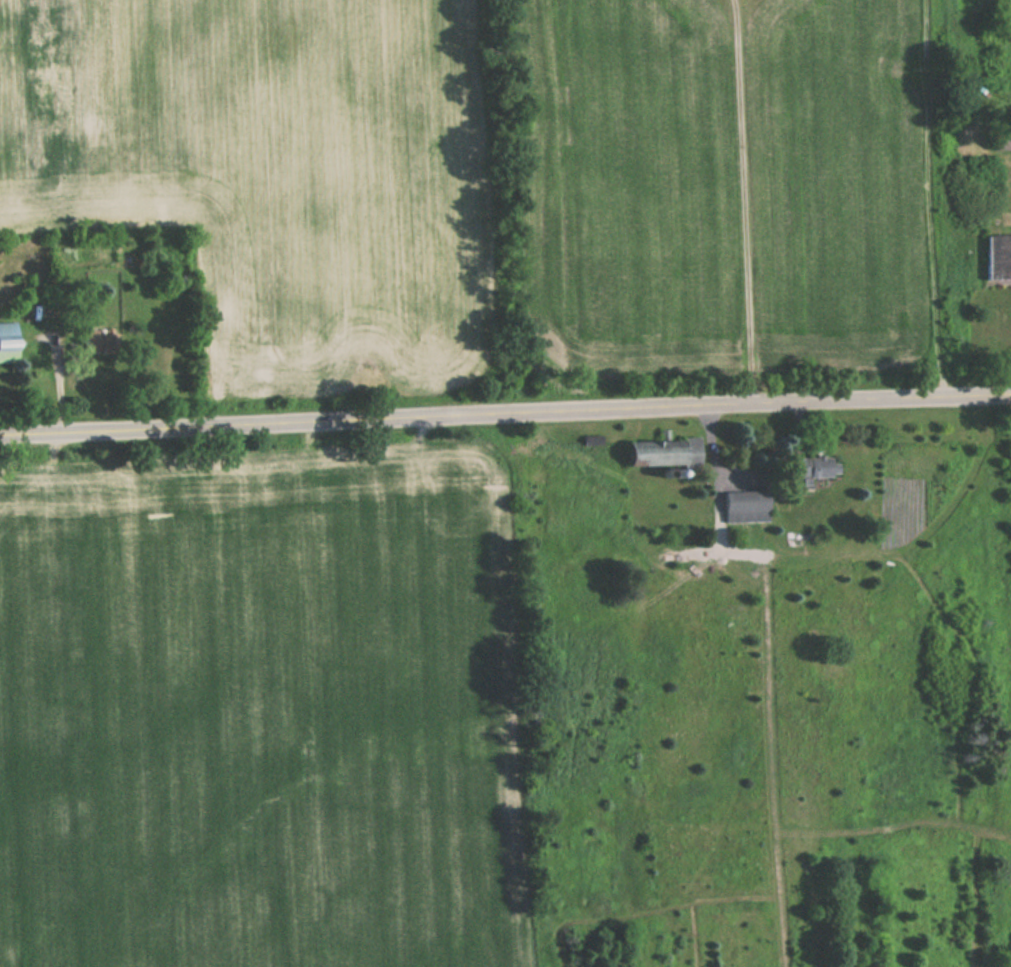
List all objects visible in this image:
building: (1002, 141)
road: (930, 199)
road: (743, 203)
building: (999, 257)
building: (7, 343)
road: (505, 415)
building: (663, 450)
building: (812, 465)
building: (746, 504)

